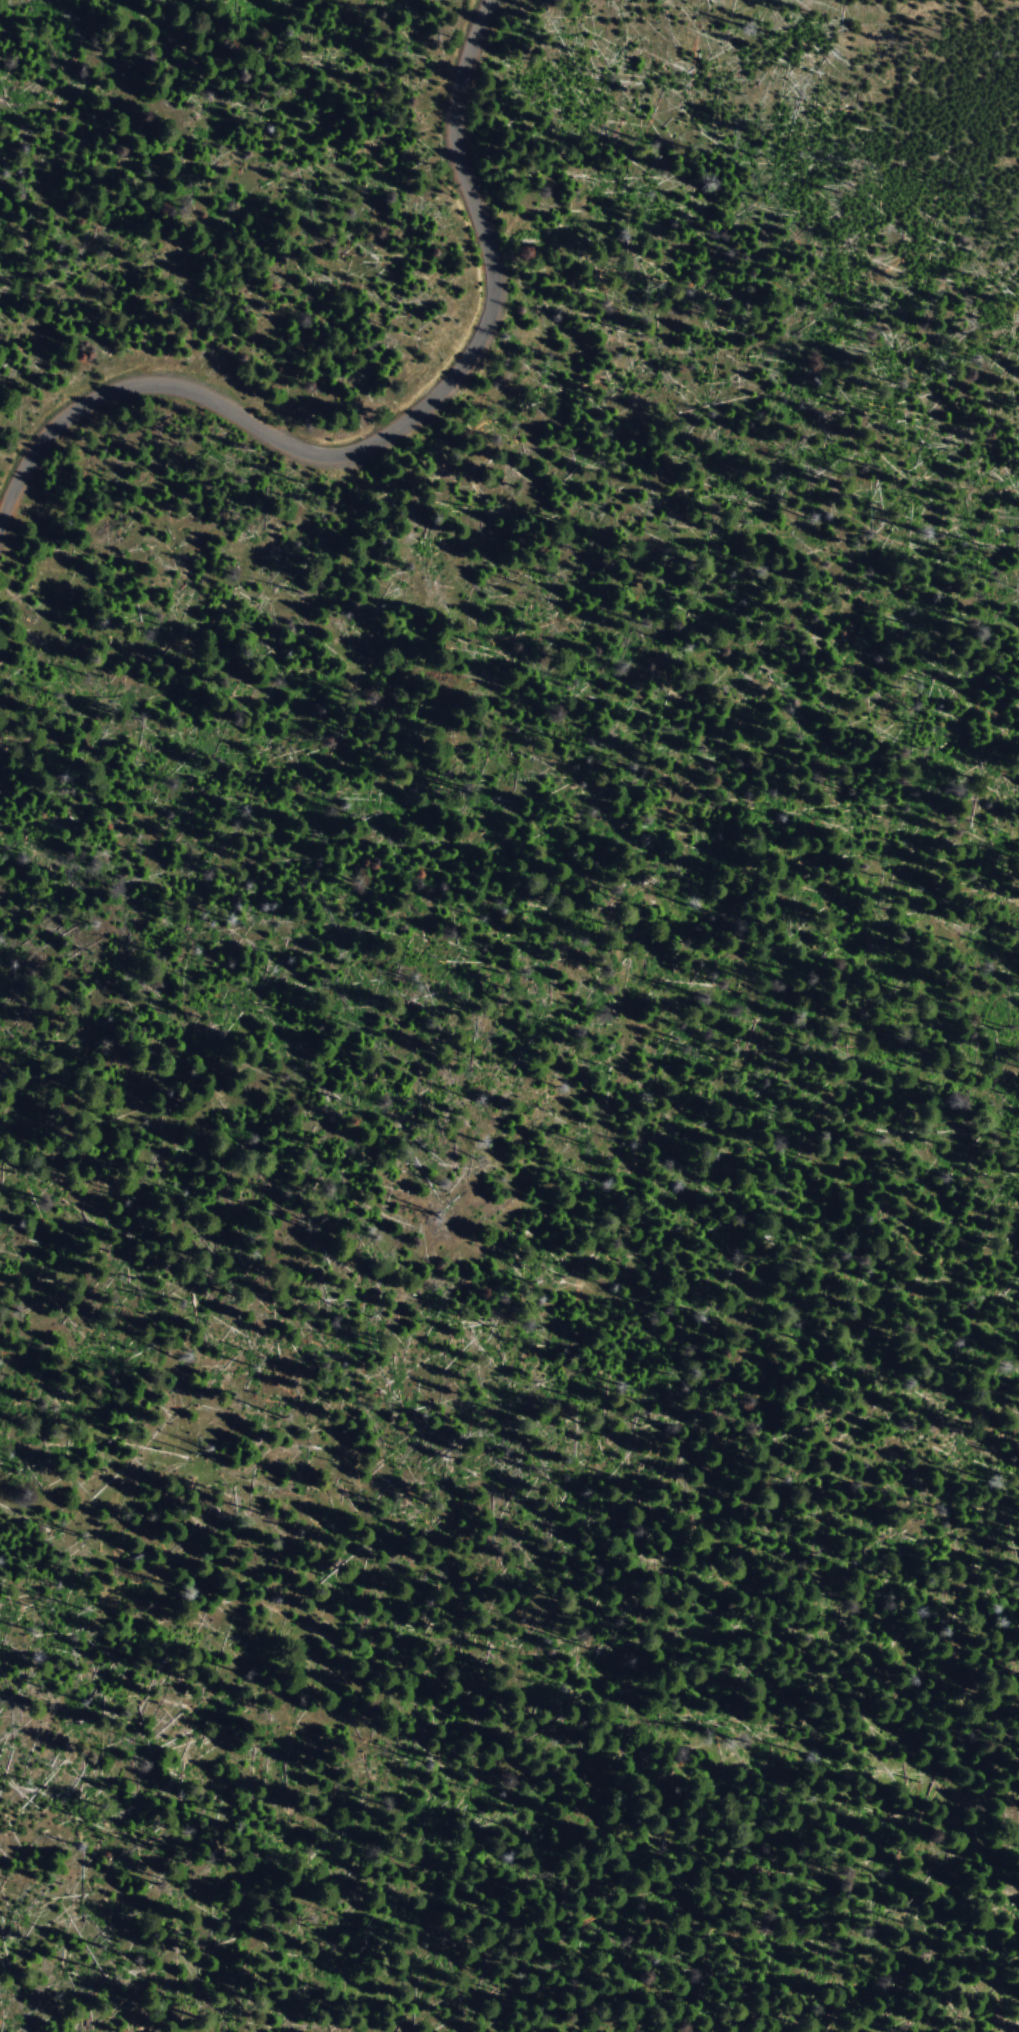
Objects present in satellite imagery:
road: (395, 434)

